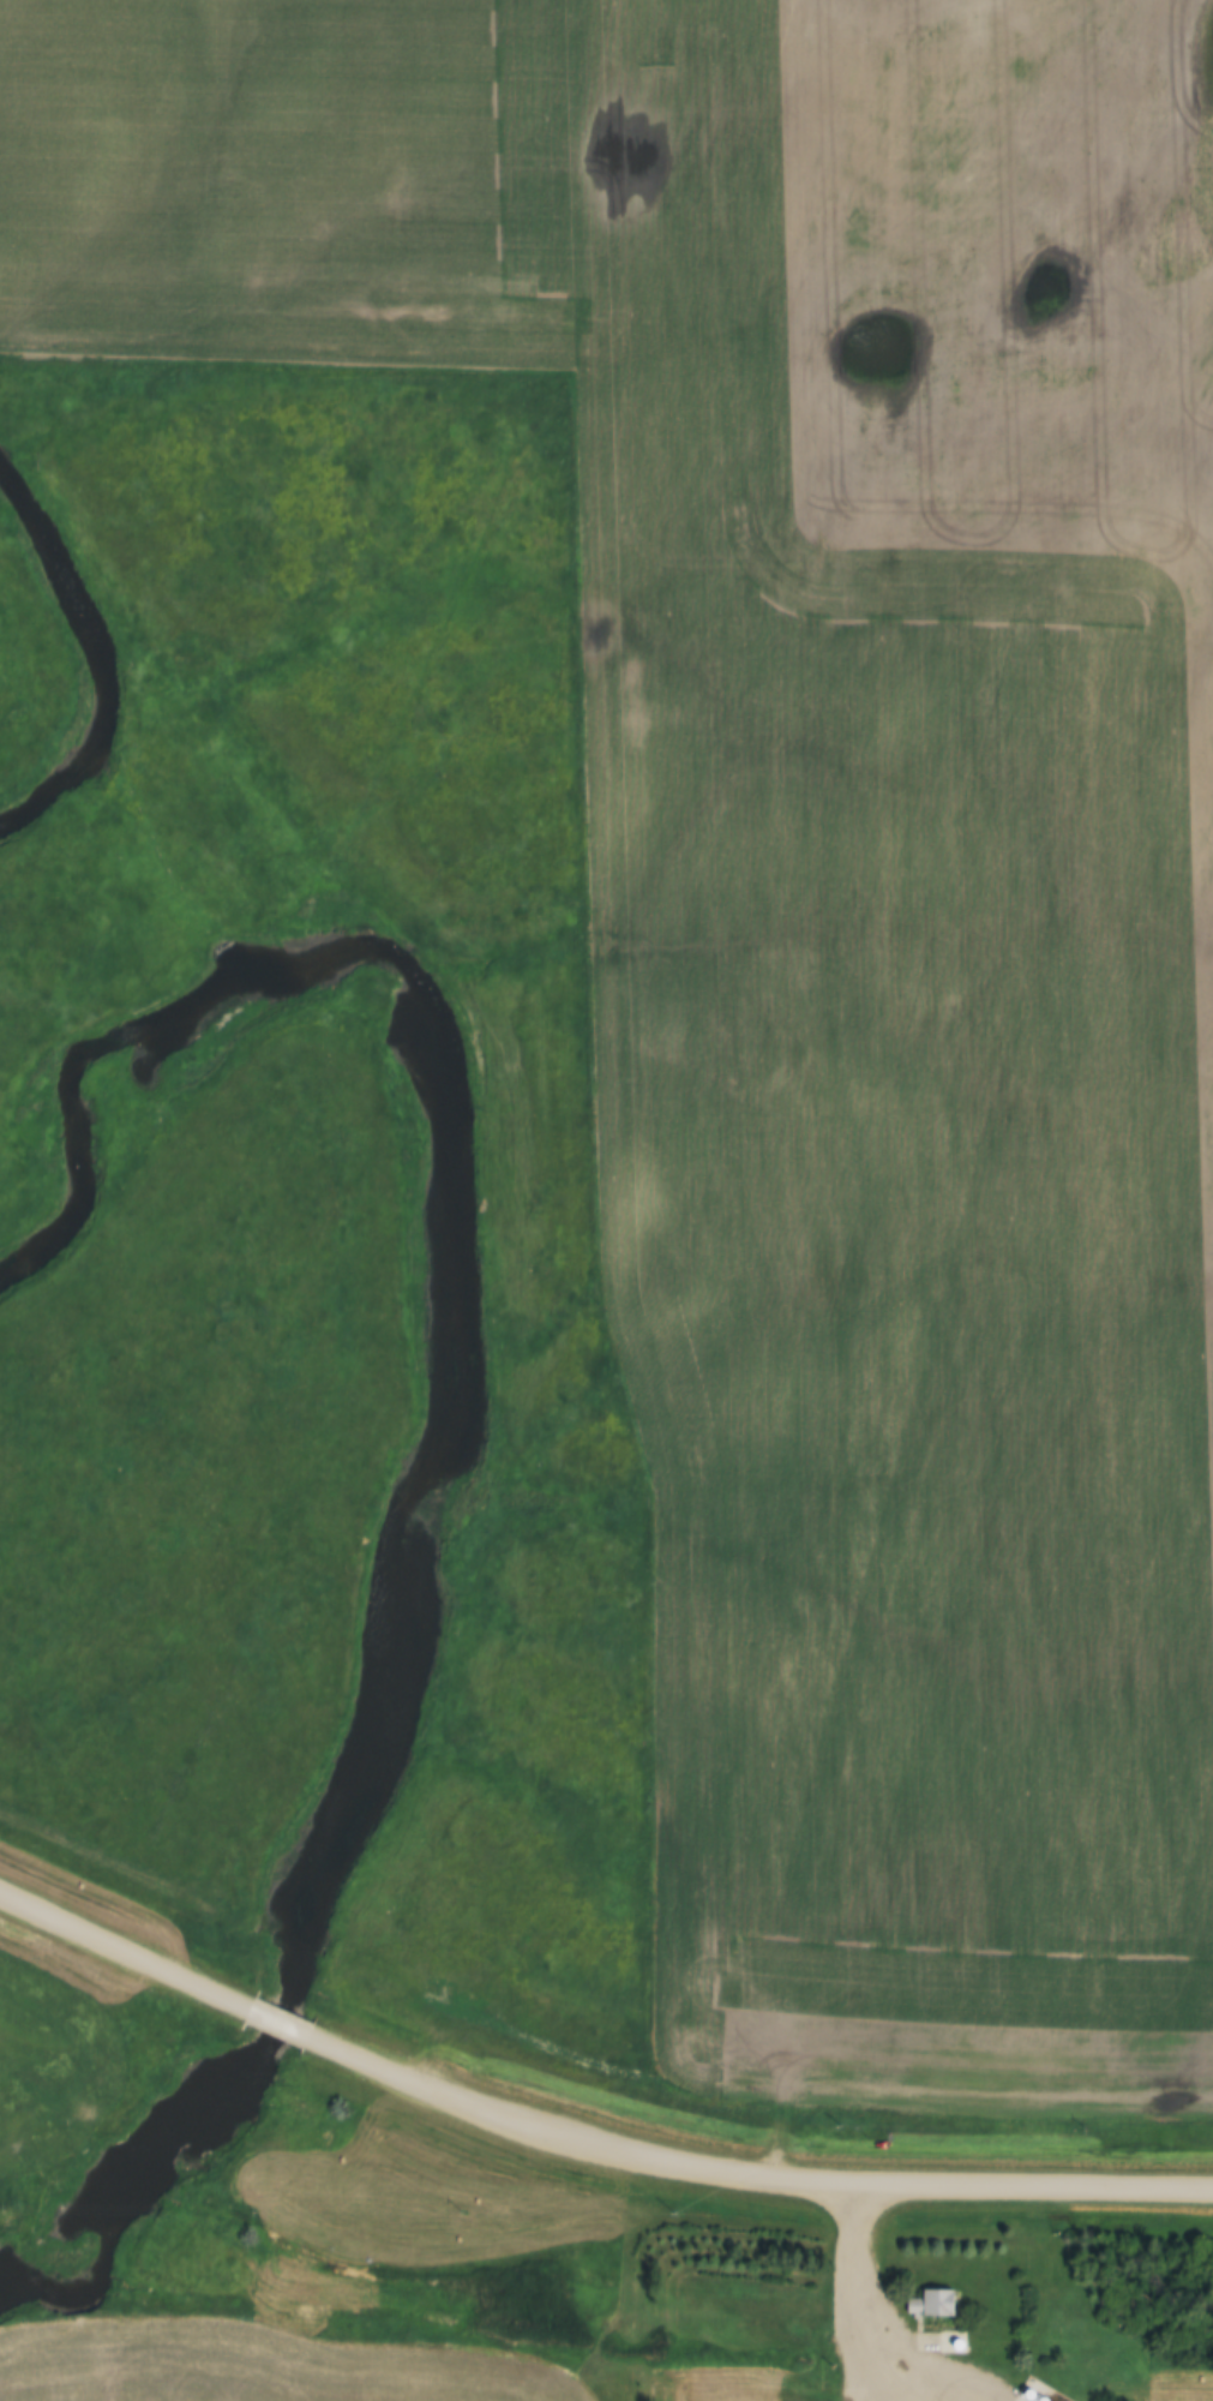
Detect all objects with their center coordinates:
road: (121, 1952)
road: (274, 2024)
road: (746, 2174)
road: (861, 2305)
building: (931, 2307)
building: (950, 2345)

